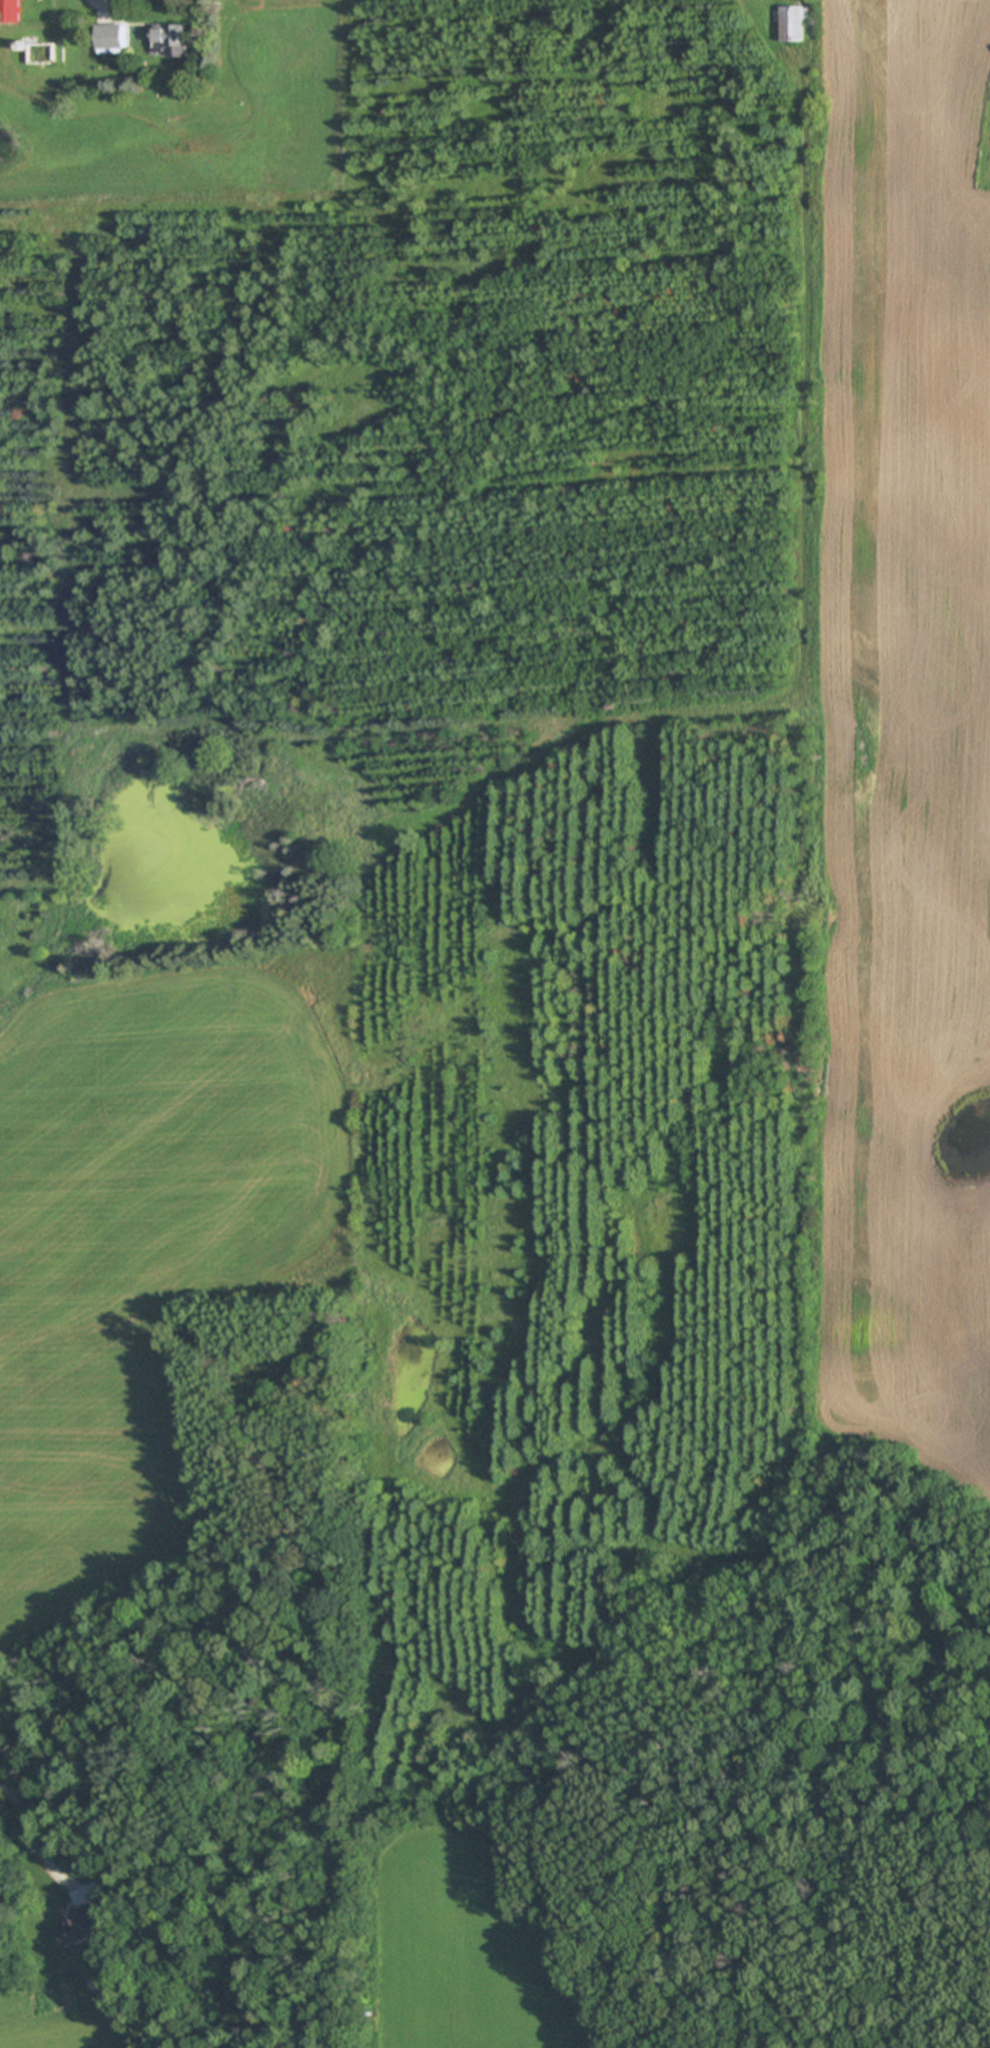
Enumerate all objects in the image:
building: (12, 12)
building: (794, 25)
building: (115, 37)
building: (172, 42)
road: (30, 1839)

